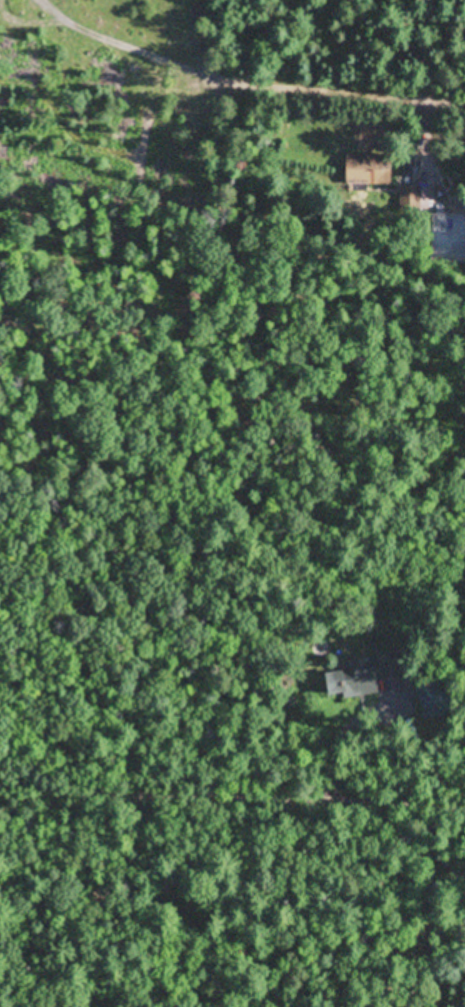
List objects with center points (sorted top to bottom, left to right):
road: (245, 79)
building: (363, 172)
building: (351, 680)
road: (232, 791)

